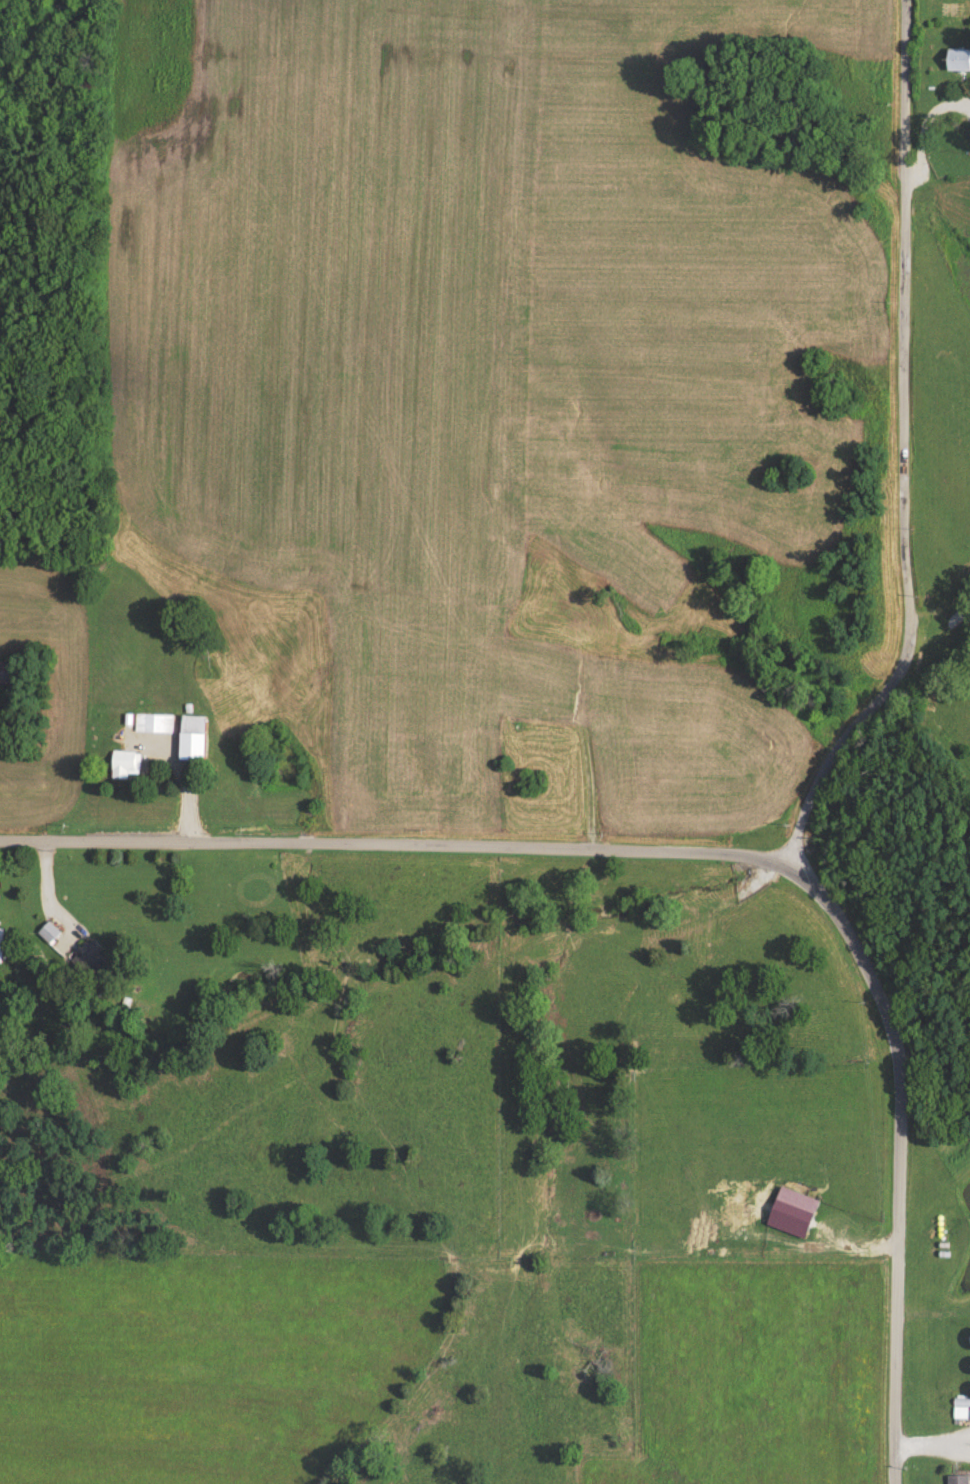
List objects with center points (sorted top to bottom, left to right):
building: (958, 64)
road: (903, 104)
road: (937, 163)
road: (903, 547)
building: (152, 726)
building: (192, 748)
building: (124, 767)
road: (727, 851)
building: (46, 935)
building: (1, 947)
building: (791, 1216)
building: (959, 1411)
building: (955, 1481)

